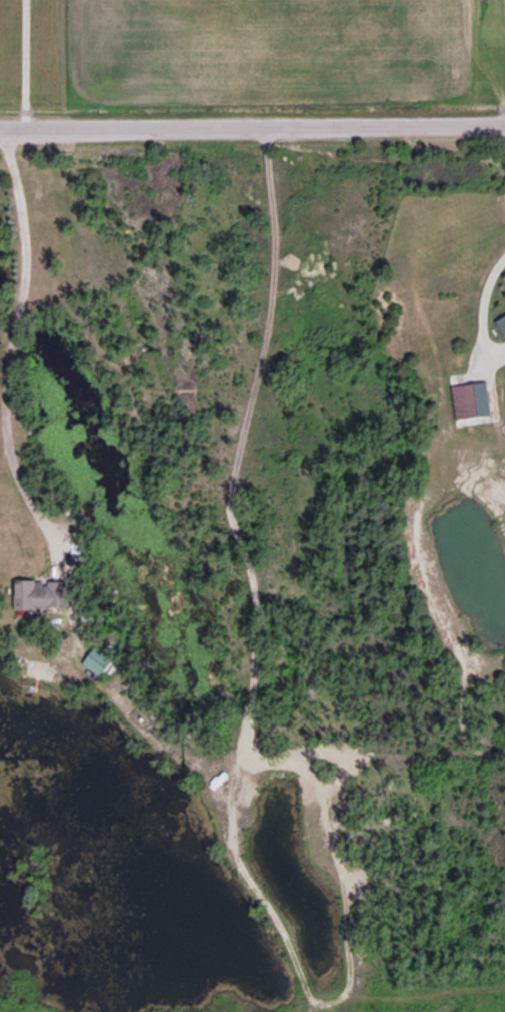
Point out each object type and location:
road: (24, 64)
road: (252, 126)
road: (481, 308)
building: (501, 324)
road: (11, 347)
building: (470, 399)
building: (39, 593)
building: (97, 660)

